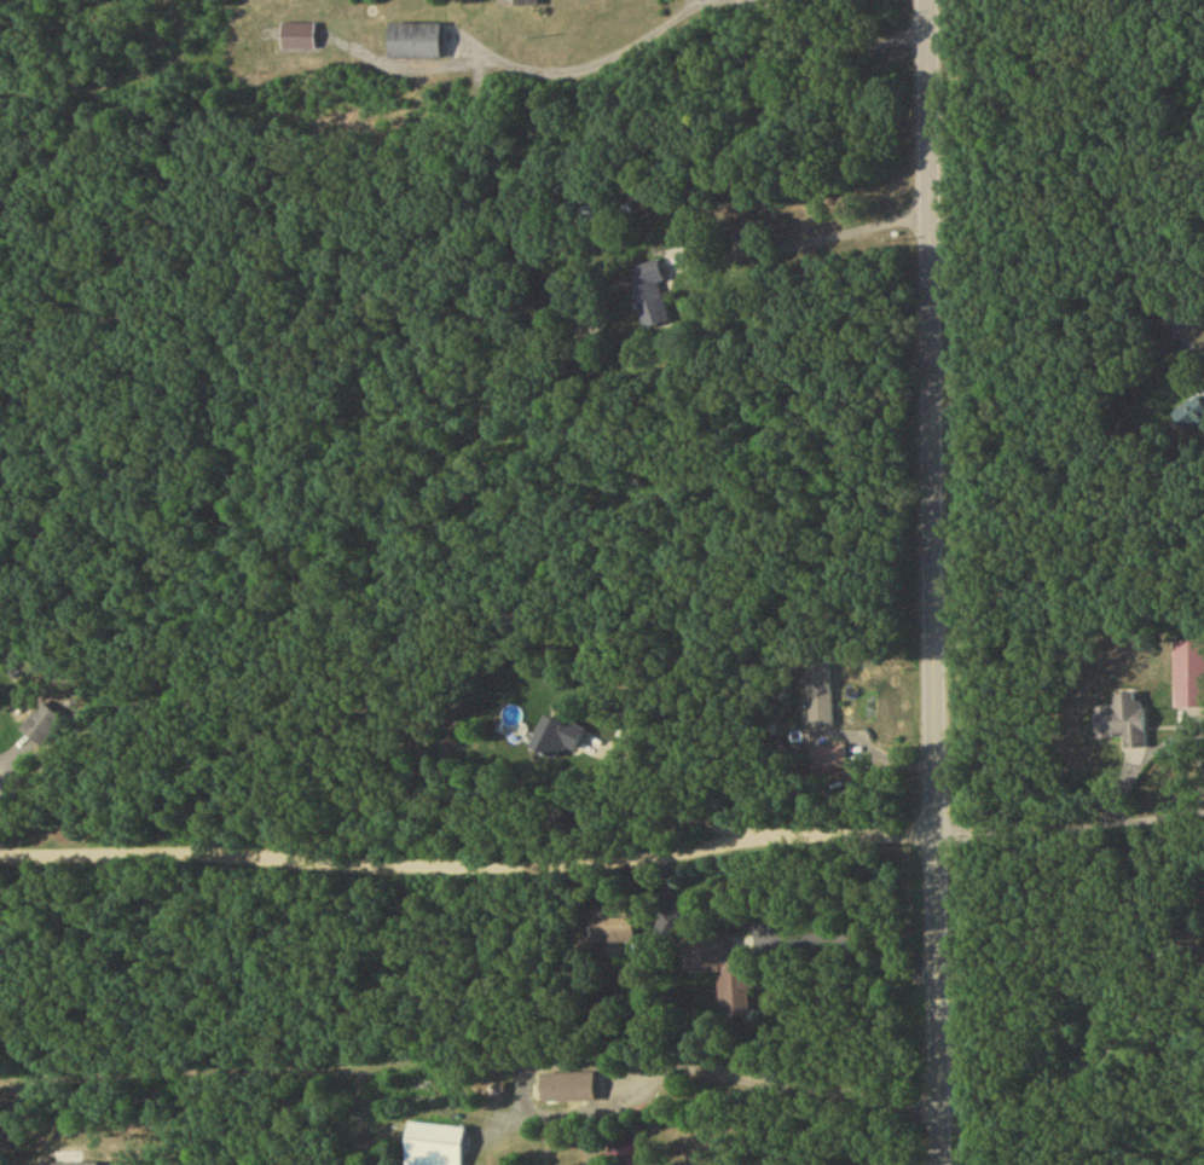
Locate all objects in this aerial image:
building: (520, 5)
road: (829, 15)
building: (415, 45)
road: (1092, 170)
road: (817, 244)
building: (652, 296)
road: (1071, 498)
road: (469, 508)
road: (940, 582)
building: (1189, 677)
building: (820, 697)
building: (1123, 724)
building: (42, 729)
building: (557, 741)
road: (12, 758)
road: (677, 806)
road: (1073, 822)
road: (470, 869)
building: (613, 929)
road: (780, 938)
building: (720, 975)
road: (1083, 1054)
road: (788, 1084)
building: (567, 1090)
building: (433, 1146)
building: (625, 1157)

